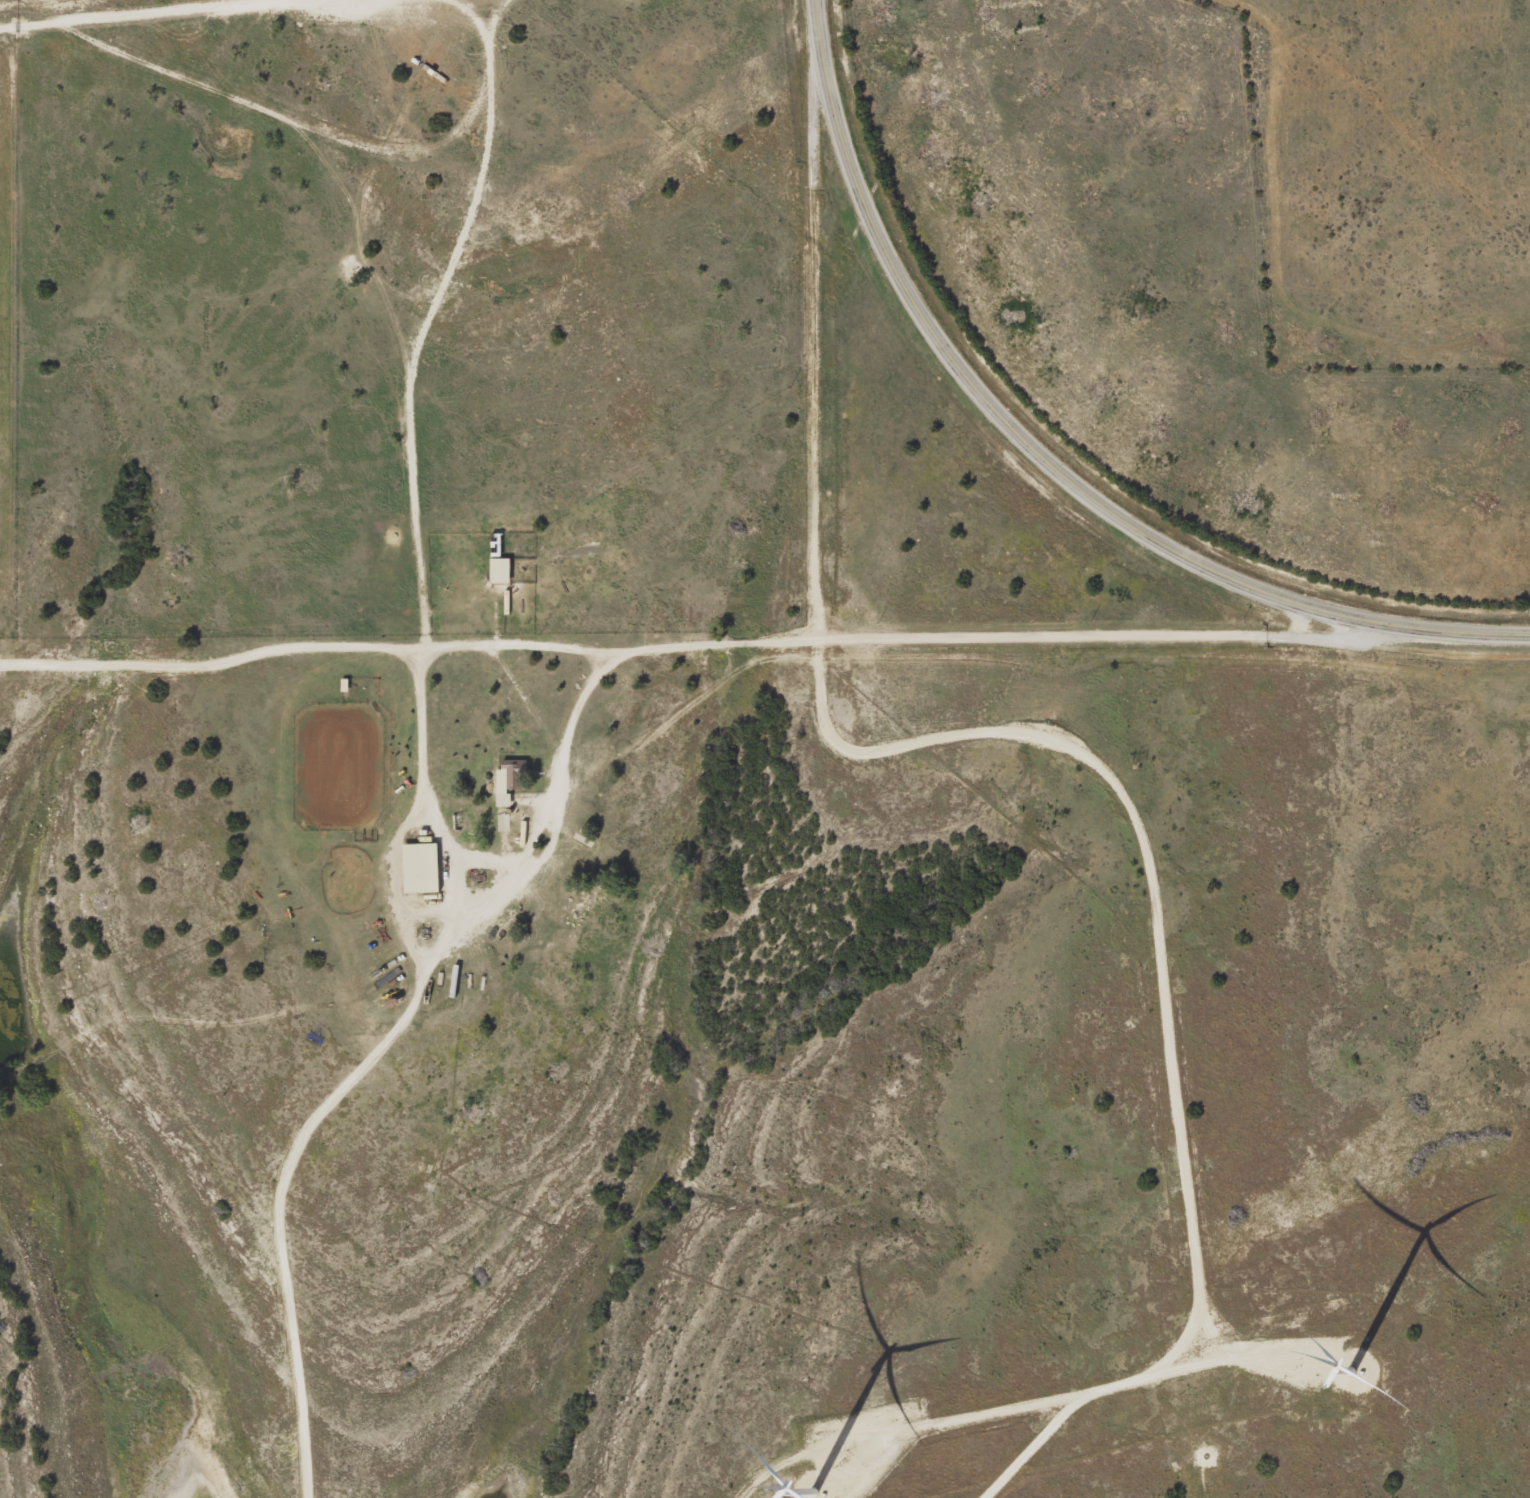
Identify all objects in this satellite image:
road: (163, 15)
road: (432, 318)
road: (818, 338)
road: (1048, 454)
building: (502, 570)
road: (513, 647)
building: (504, 787)
road: (557, 804)
road: (1169, 993)
wind turbine: (1329, 1344)

